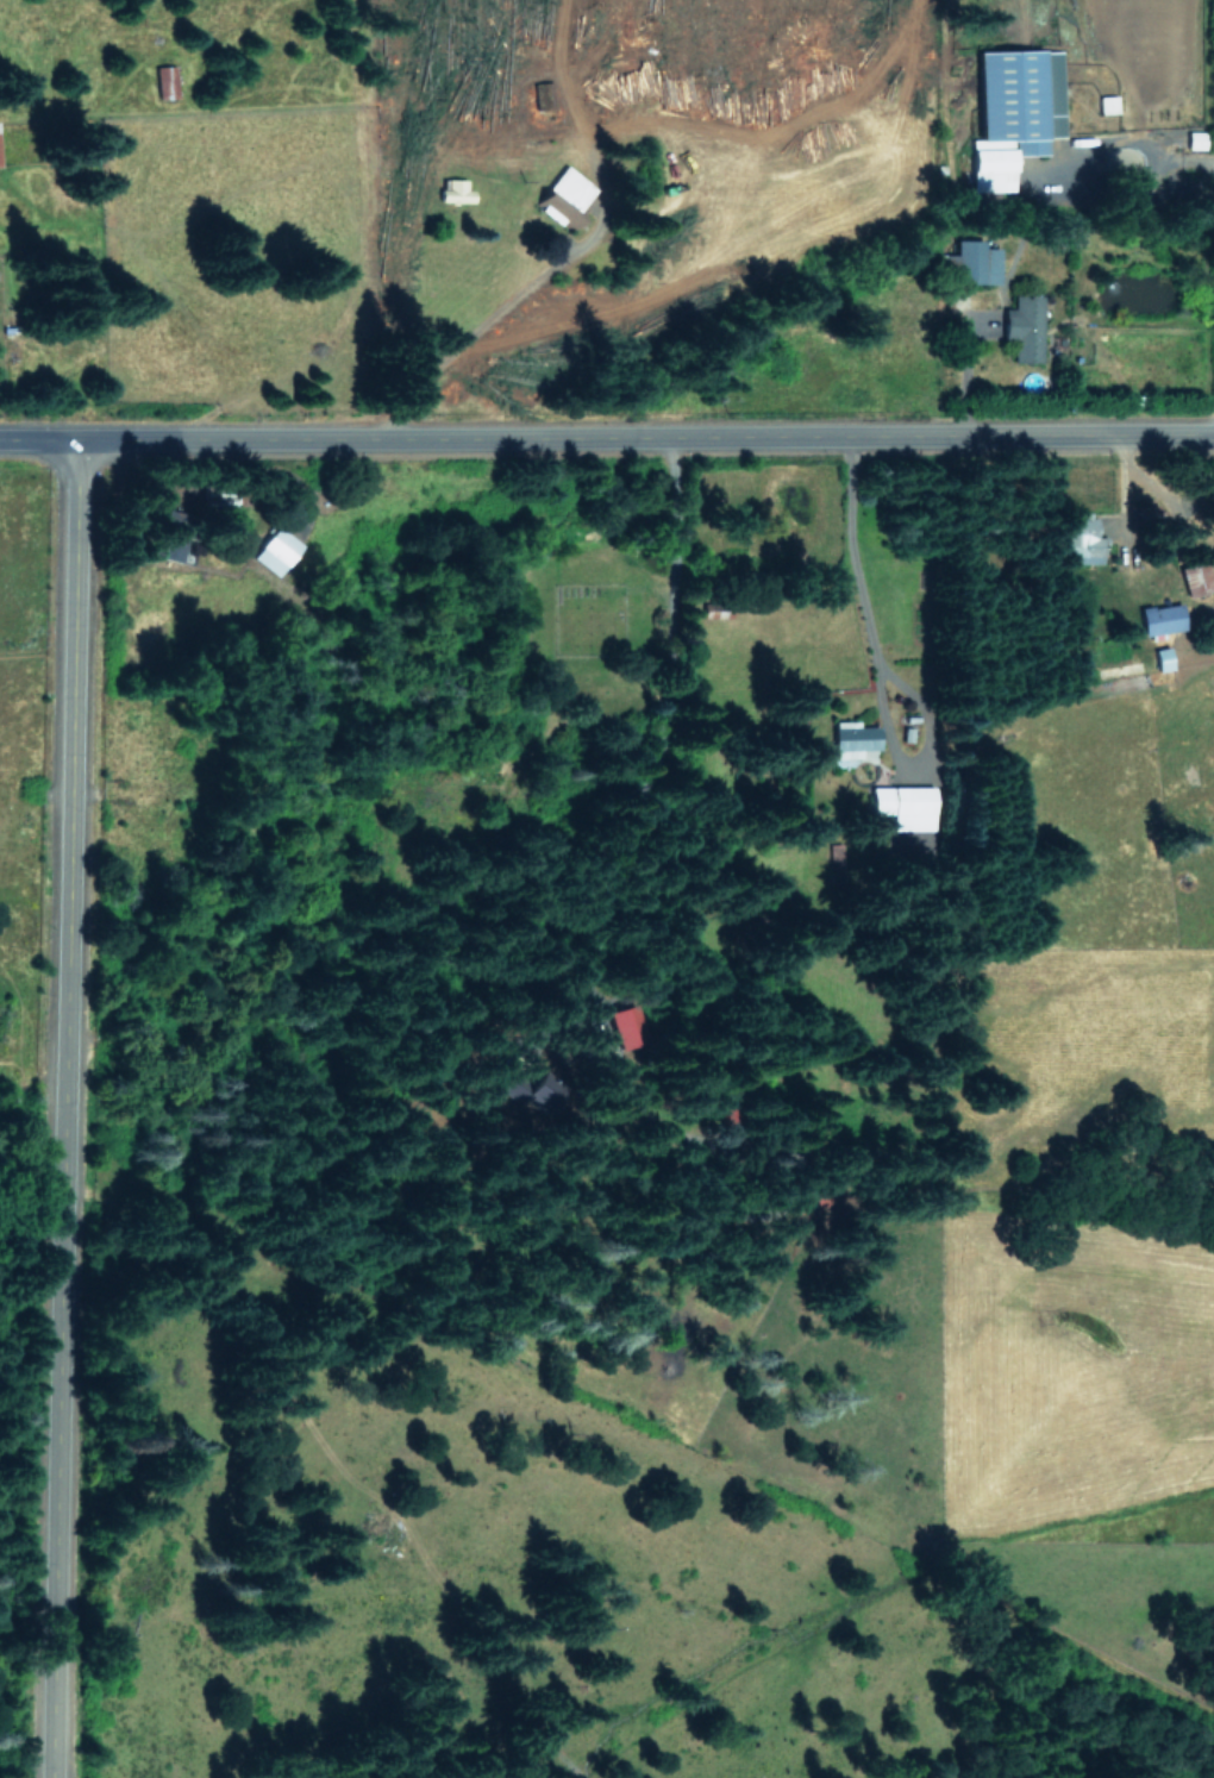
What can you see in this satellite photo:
crop: (1087, 46)
building: (164, 81)
building: (1107, 104)
building: (1012, 112)
building: (1194, 139)
building: (564, 195)
building: (972, 261)
building: (1022, 326)
road: (606, 436)
building: (1146, 512)
building: (1083, 541)
building: (275, 550)
building: (1194, 576)
building: (1160, 618)
road: (675, 628)
building: (1162, 657)
road: (876, 665)
building: (853, 734)
building: (901, 805)
building: (532, 1097)
road: (65, 1110)

